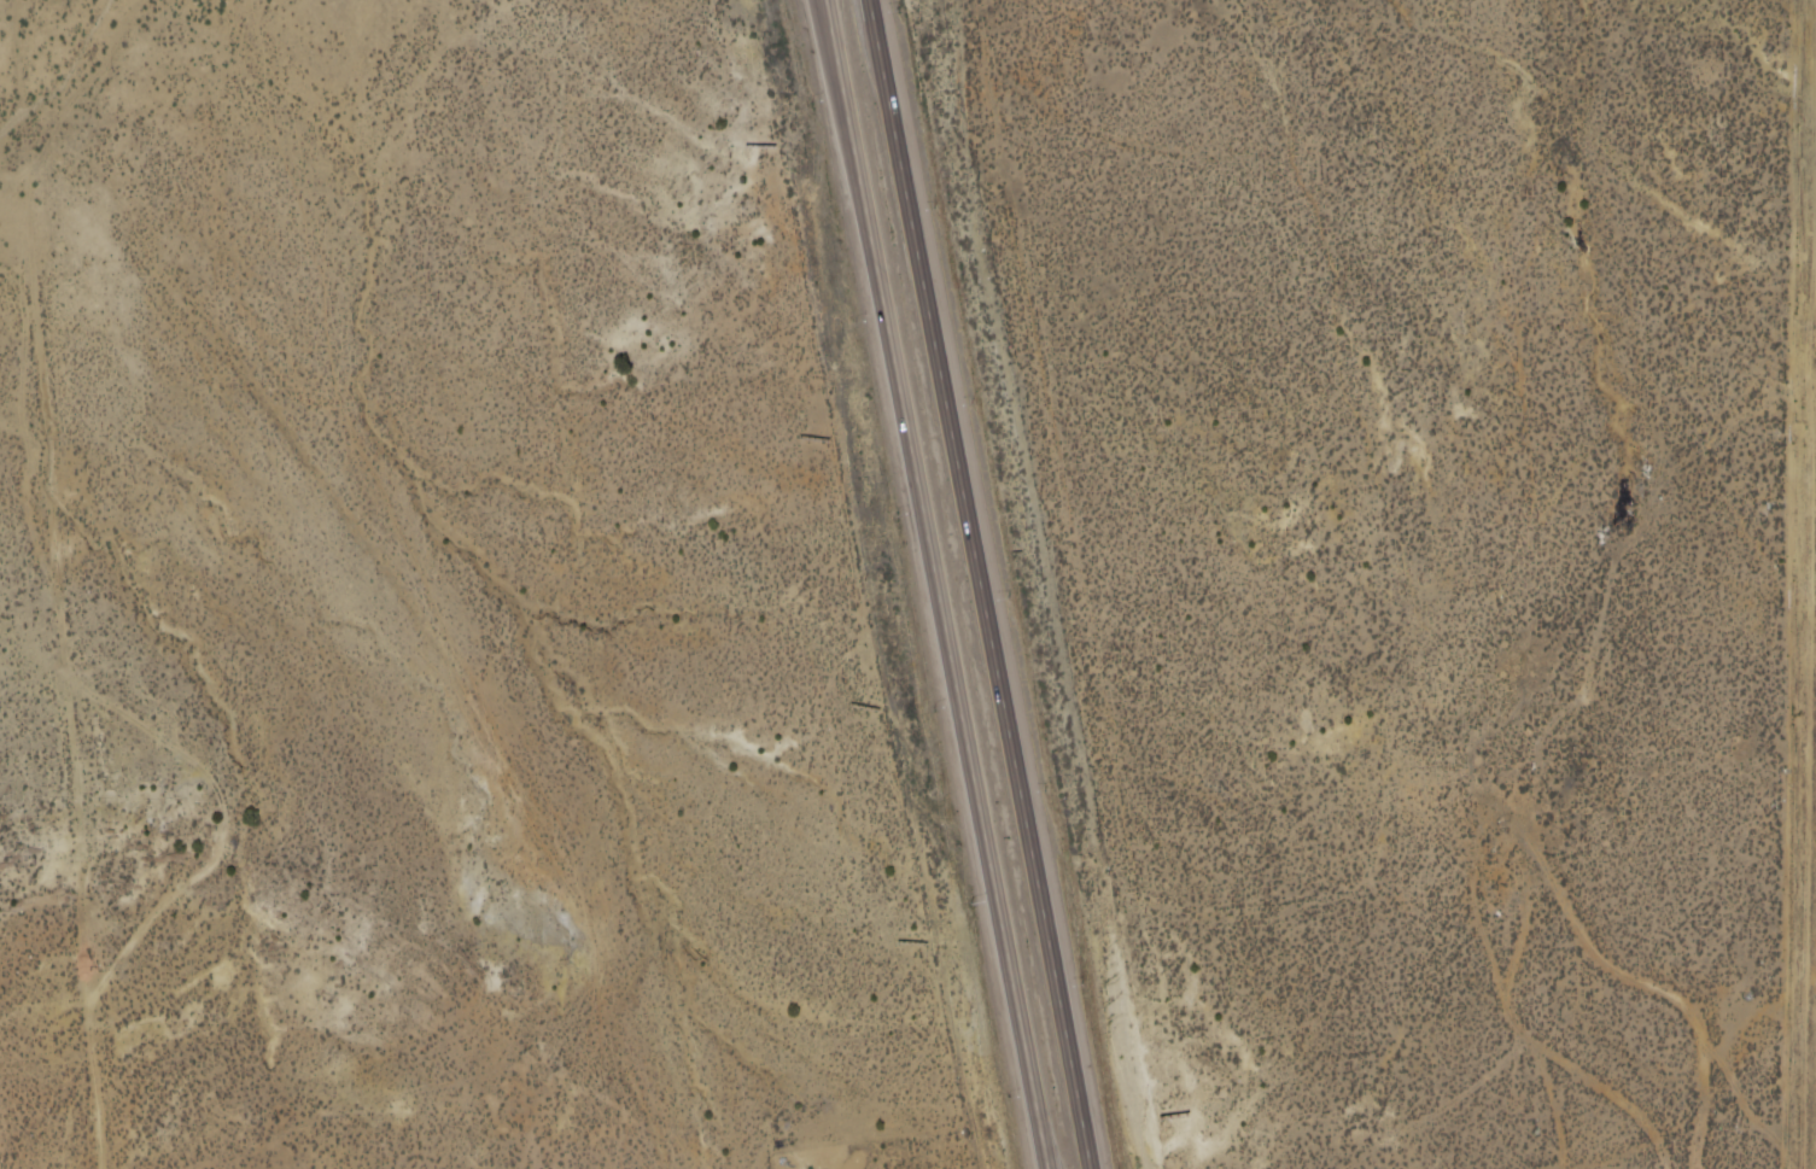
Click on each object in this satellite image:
road: (934, 583)
road: (980, 584)

